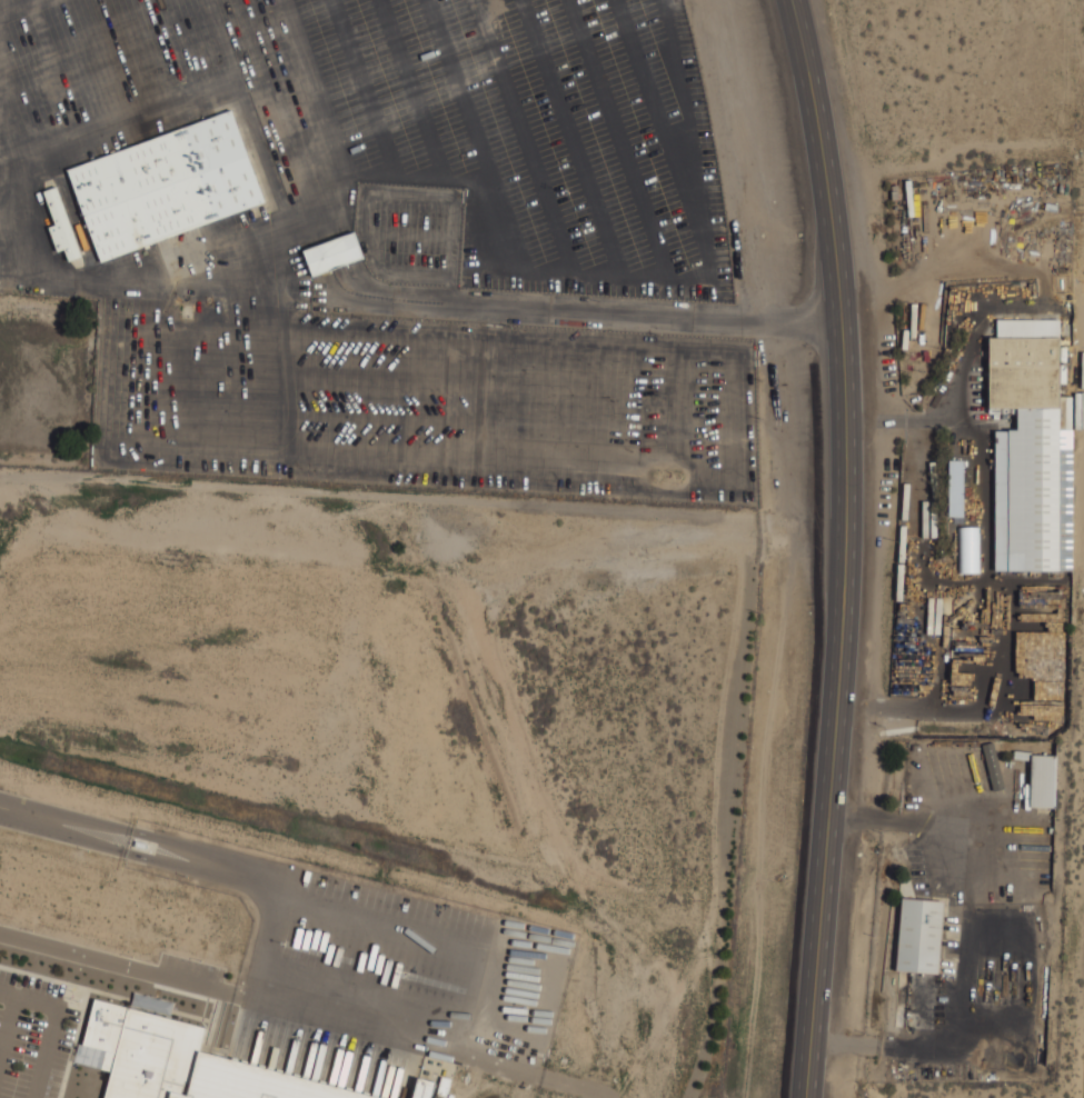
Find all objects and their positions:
building: (169, 186)
building: (64, 226)
building: (337, 253)
road: (650, 316)
building: (1031, 447)
road: (845, 547)
road: (995, 578)
building: (1043, 780)
road: (29, 815)
road: (200, 864)
road: (271, 909)
building: (923, 936)
road: (965, 944)
road: (117, 964)
road: (51, 1025)
road: (418, 1044)
building: (180, 1061)

